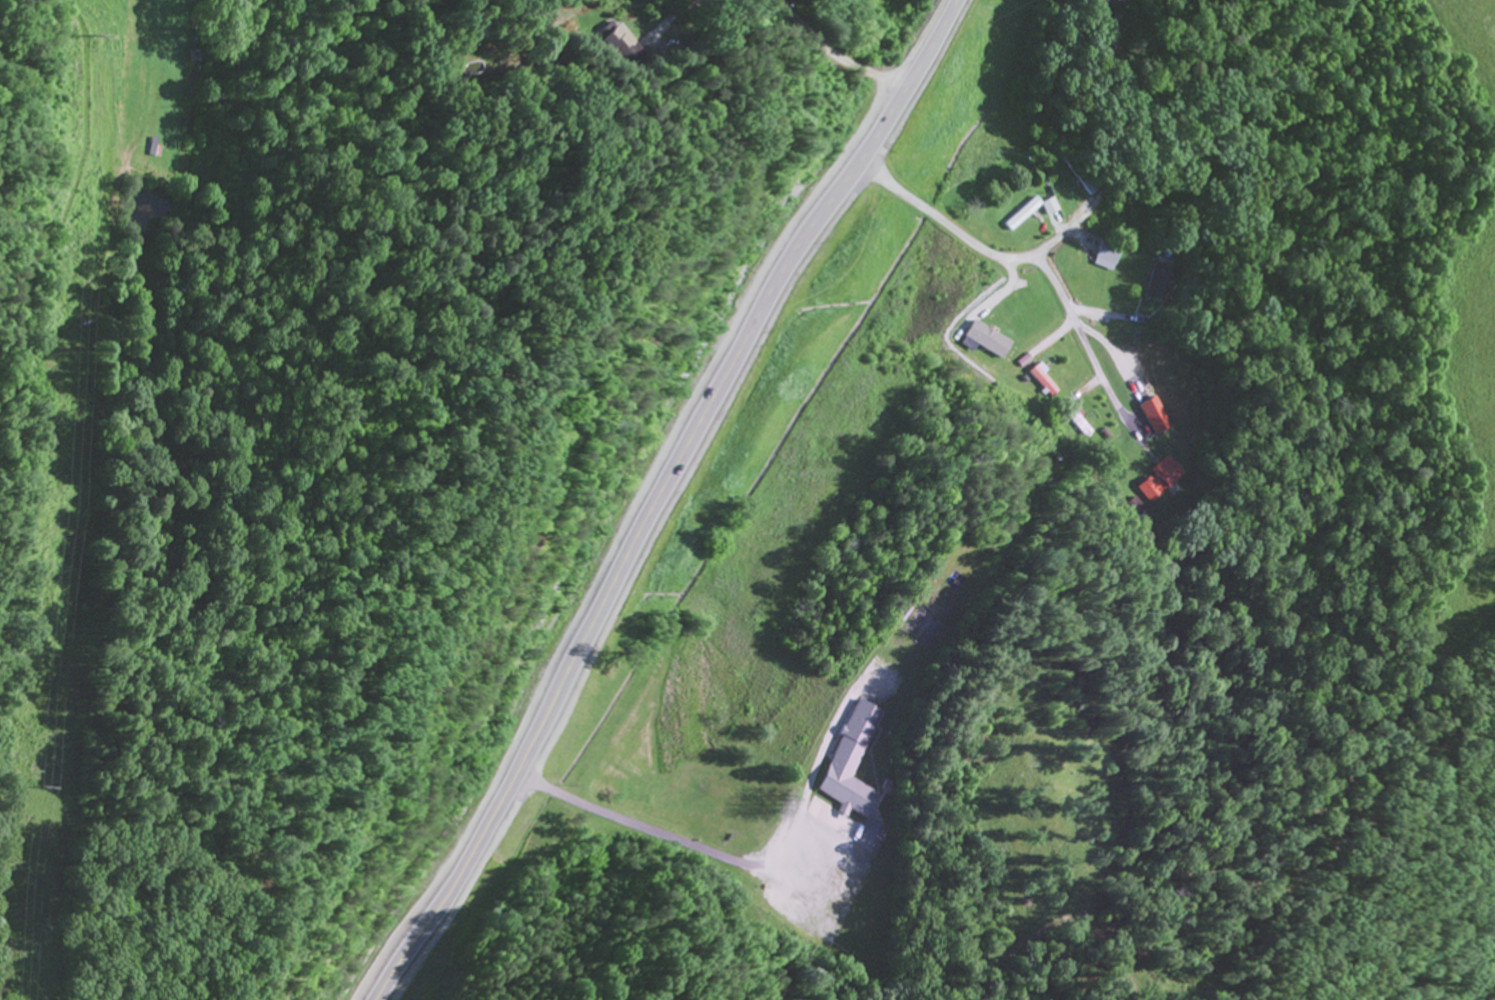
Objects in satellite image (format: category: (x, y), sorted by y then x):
building: (624, 48)
building: (1077, 175)
building: (1018, 216)
building: (1108, 255)
road: (1019, 259)
building: (1038, 382)
building: (1075, 426)
building: (1152, 482)
road: (664, 495)
building: (851, 774)

